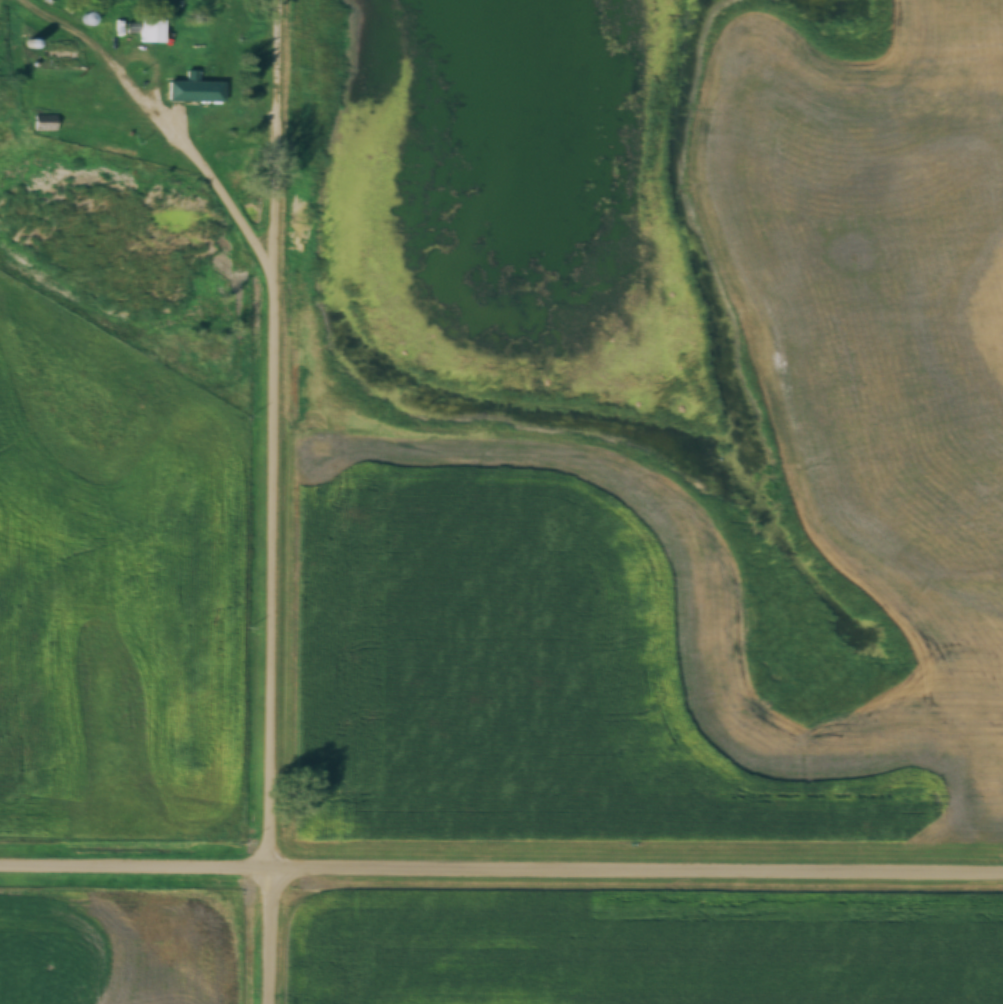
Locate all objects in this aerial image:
building: (151, 29)
building: (60, 51)
building: (194, 90)
road: (272, 501)
road: (501, 867)

